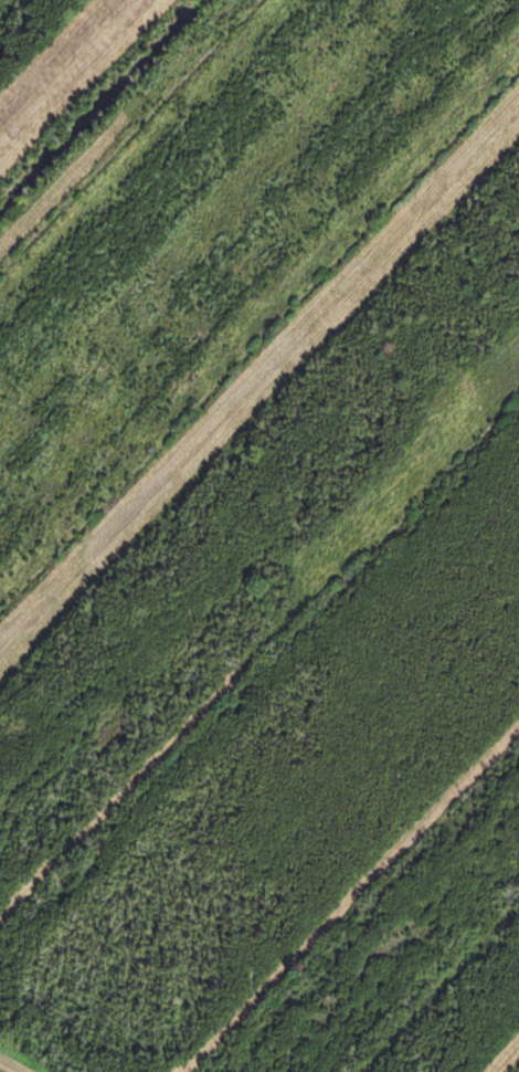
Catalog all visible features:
road: (24, 1059)

